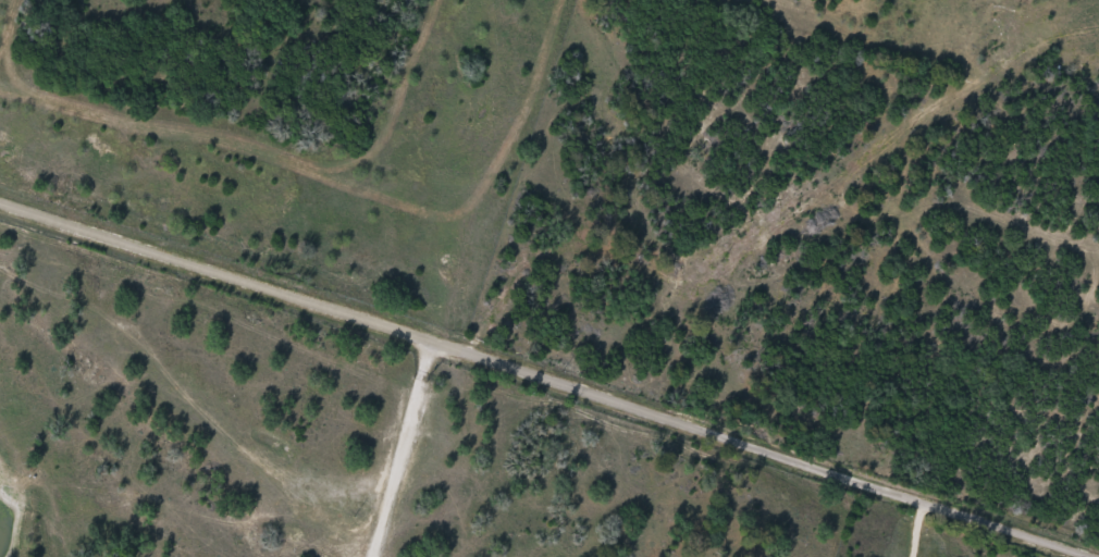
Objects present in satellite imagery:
road: (545, 381)
road: (399, 449)

